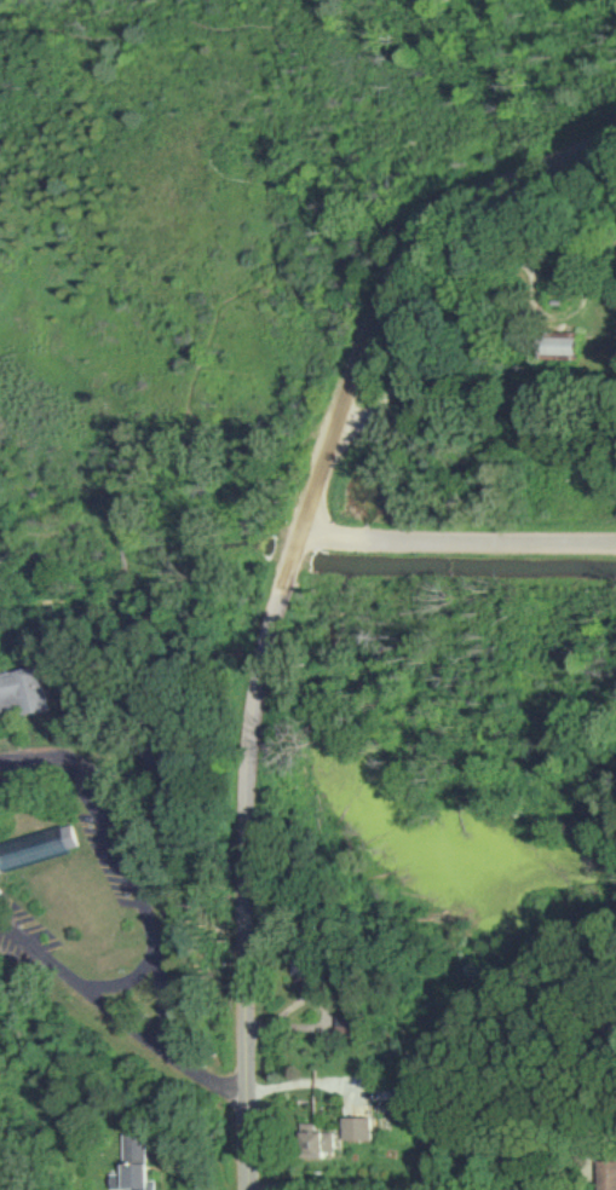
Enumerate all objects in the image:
road: (129, 22)
road: (215, 133)
road: (404, 278)
road: (437, 295)
building: (574, 347)
road: (183, 418)
road: (457, 539)
road: (76, 574)
building: (17, 681)
road: (132, 684)
parking lot: (75, 805)
building: (34, 837)
road: (129, 854)
road: (238, 859)
parking lot: (1, 891)
road: (120, 972)
road: (81, 981)
road: (197, 1068)
road: (307, 1084)
road: (595, 1090)
road: (608, 1115)
building: (362, 1130)
building: (327, 1143)
building: (609, 1175)
building: (136, 1178)
road: (10, 1184)
road: (447, 1188)

